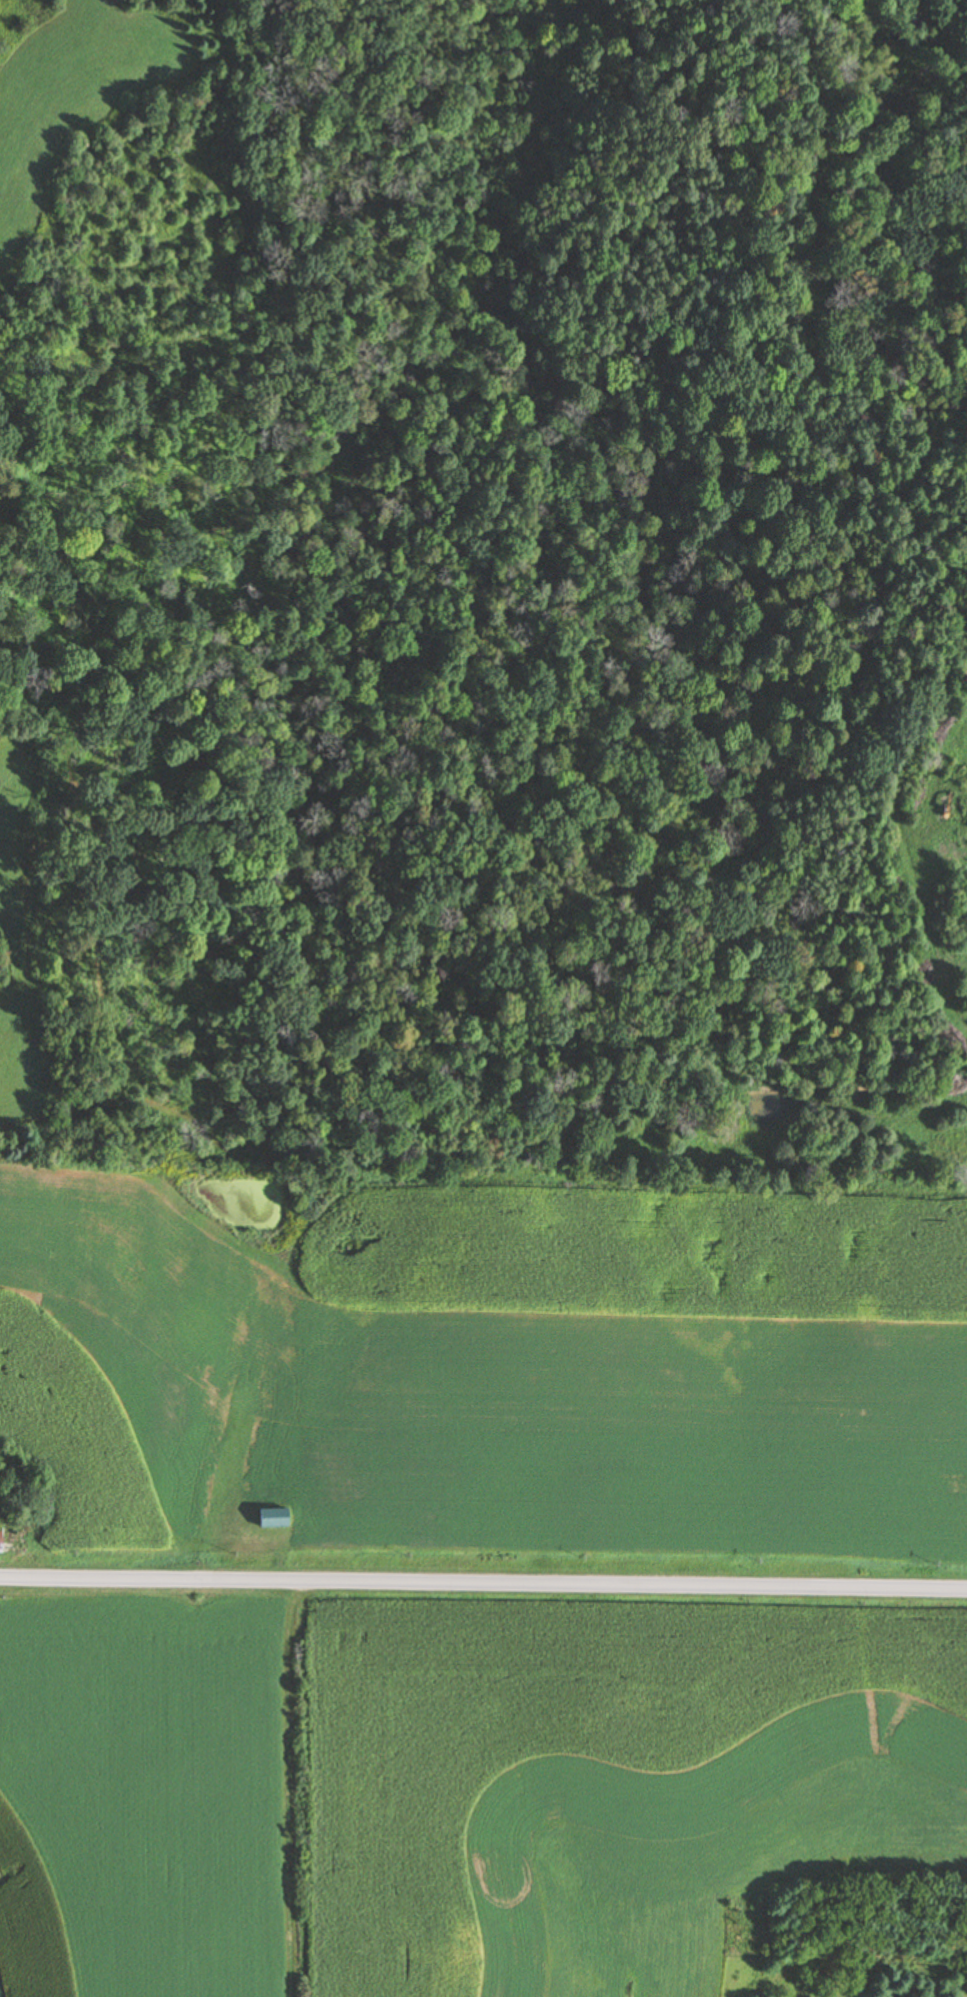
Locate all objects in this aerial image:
building: (274, 1518)
building: (3, 1541)
road: (483, 1578)

